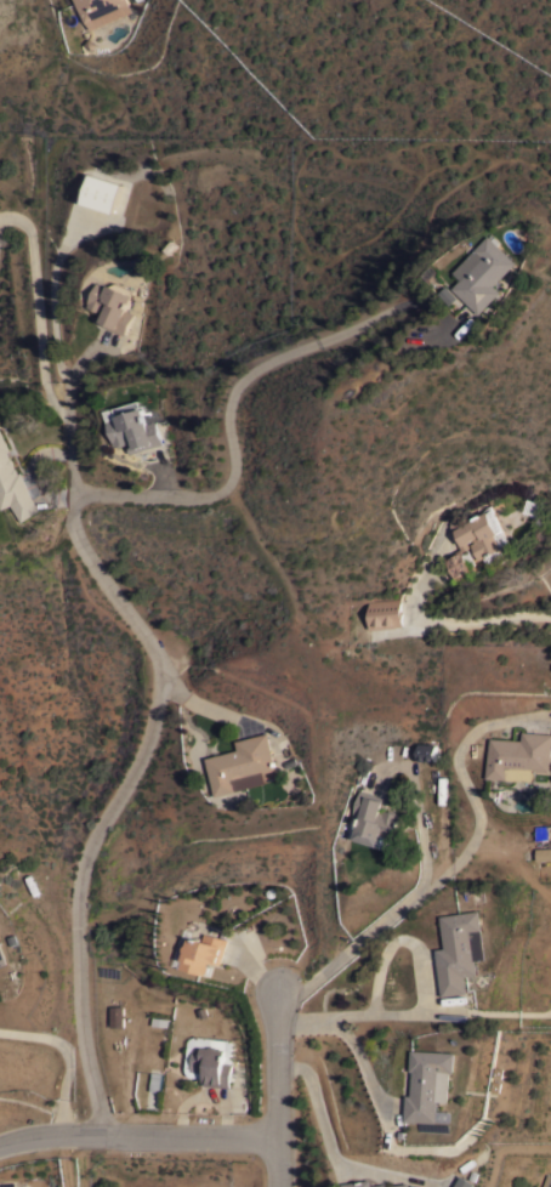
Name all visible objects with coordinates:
building: (102, 11)
building: (103, 192)
building: (488, 273)
building: (453, 295)
building: (113, 305)
road: (36, 316)
road: (295, 333)
road: (76, 409)
building: (135, 427)
building: (13, 485)
road: (194, 487)
building: (479, 534)
building: (459, 564)
building: (385, 613)
road: (451, 625)
building: (426, 751)
building: (519, 755)
building: (242, 765)
building: (442, 791)
road: (114, 796)
building: (375, 822)
building: (543, 852)
road: (450, 854)
road: (398, 941)
building: (458, 950)
building: (201, 952)
building: (2, 956)
building: (117, 1015)
road: (405, 1016)
road: (63, 1057)
building: (211, 1062)
building: (154, 1081)
building: (428, 1083)
road: (274, 1090)
road: (385, 1118)
road: (136, 1135)
road: (331, 1151)
building: (547, 1181)
building: (358, 1182)
building: (465, 1182)

